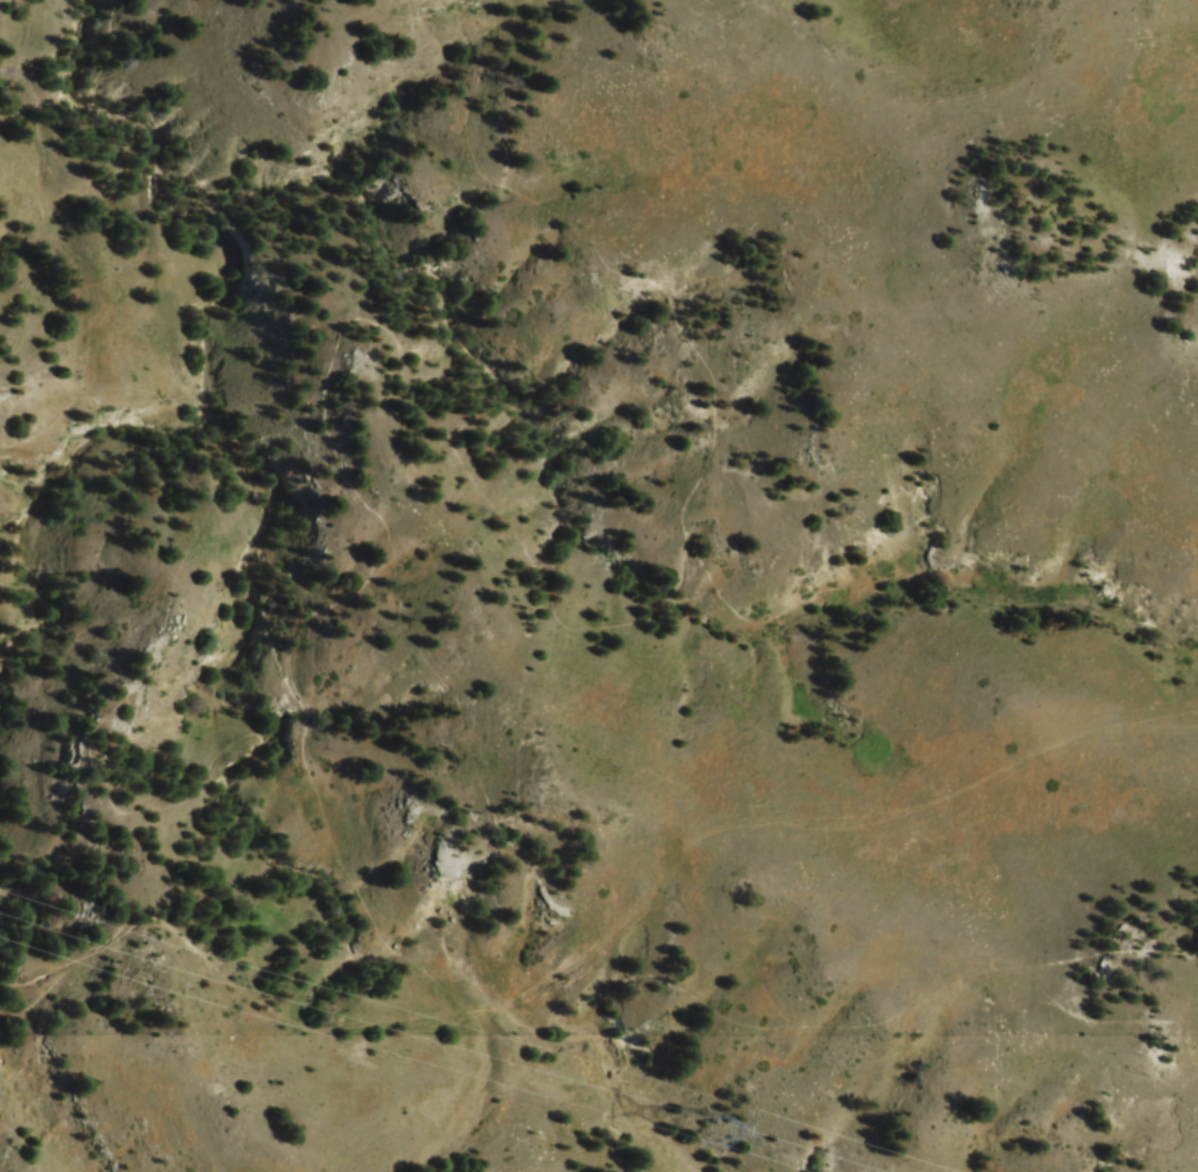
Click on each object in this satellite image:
power tower: (720, 1128)

